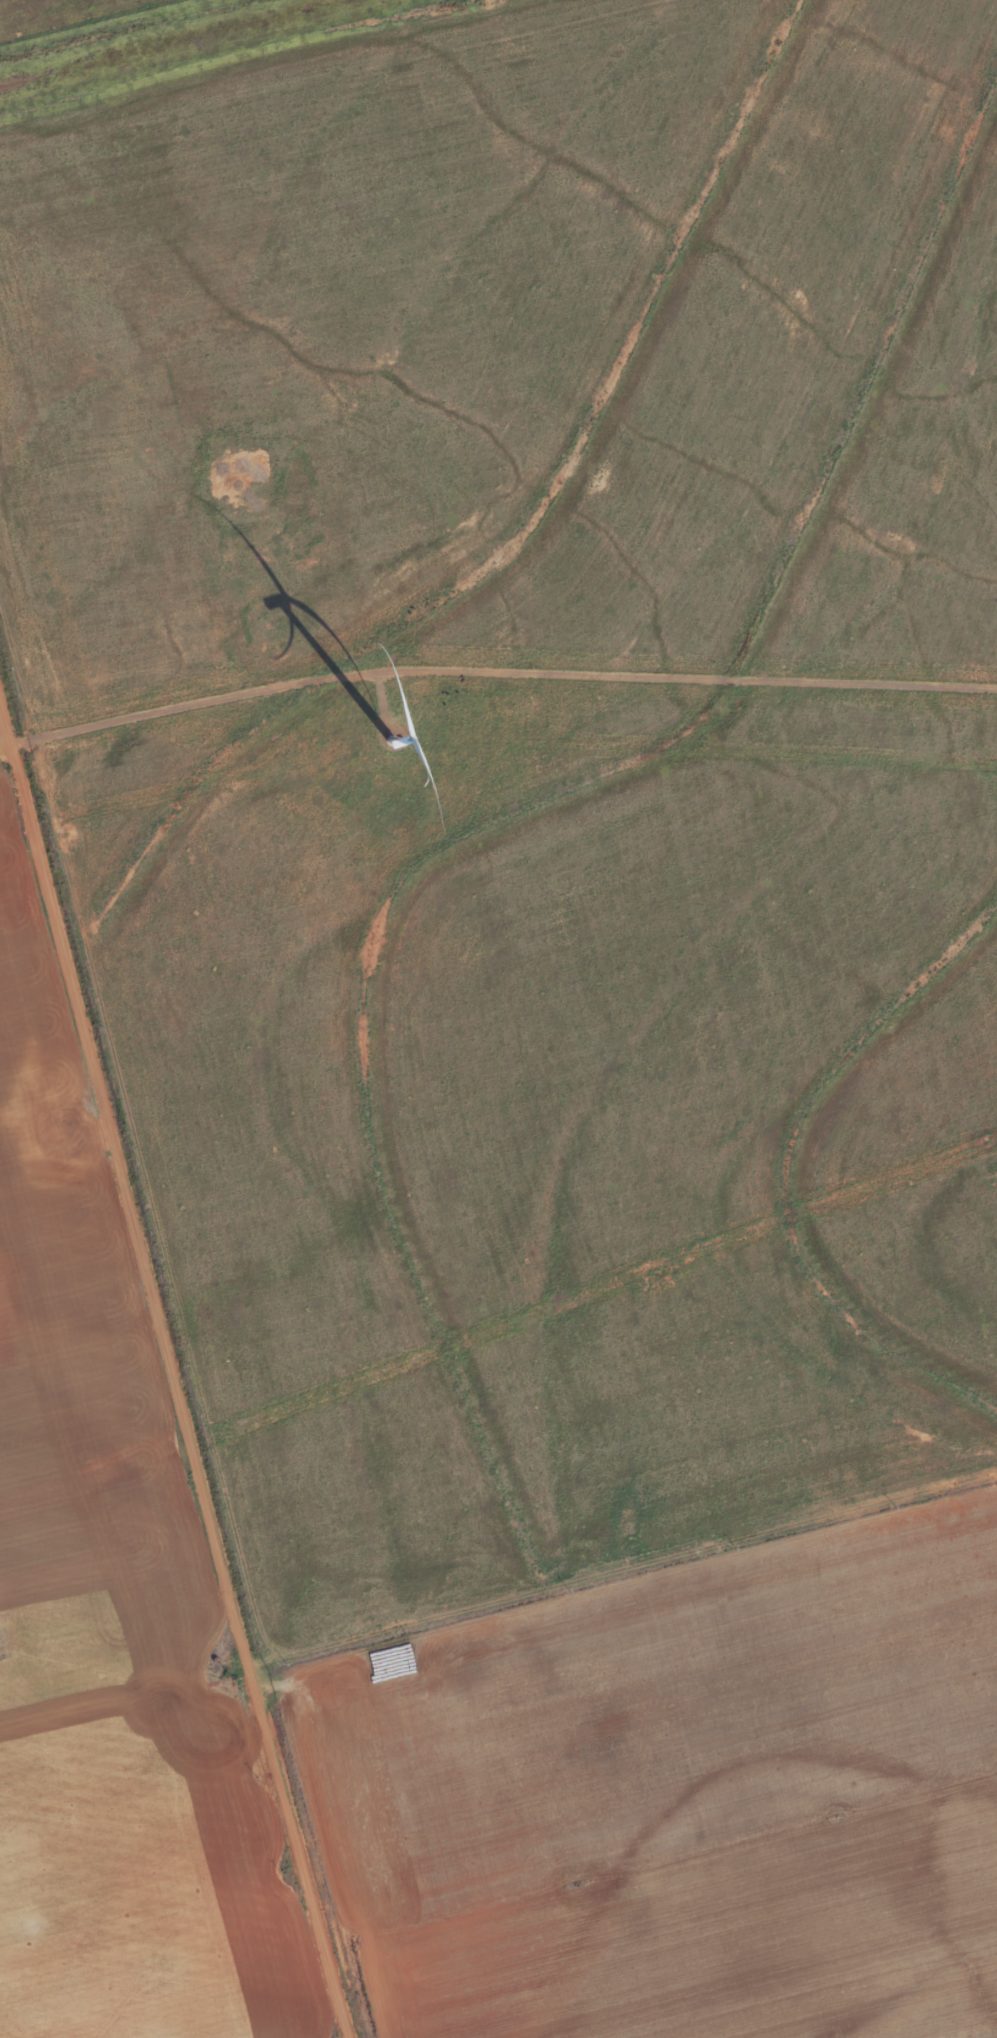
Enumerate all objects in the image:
wind turbine: (391, 739)
road: (179, 1353)

